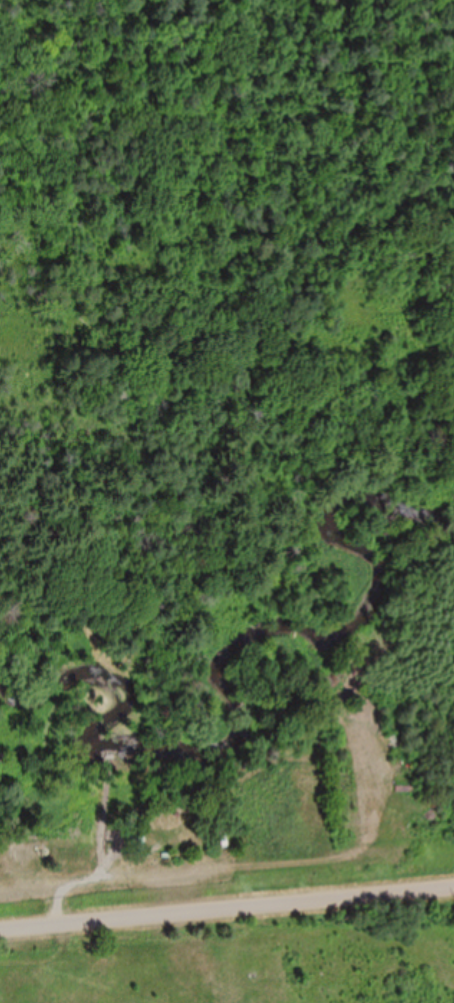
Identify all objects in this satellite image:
road: (227, 905)

